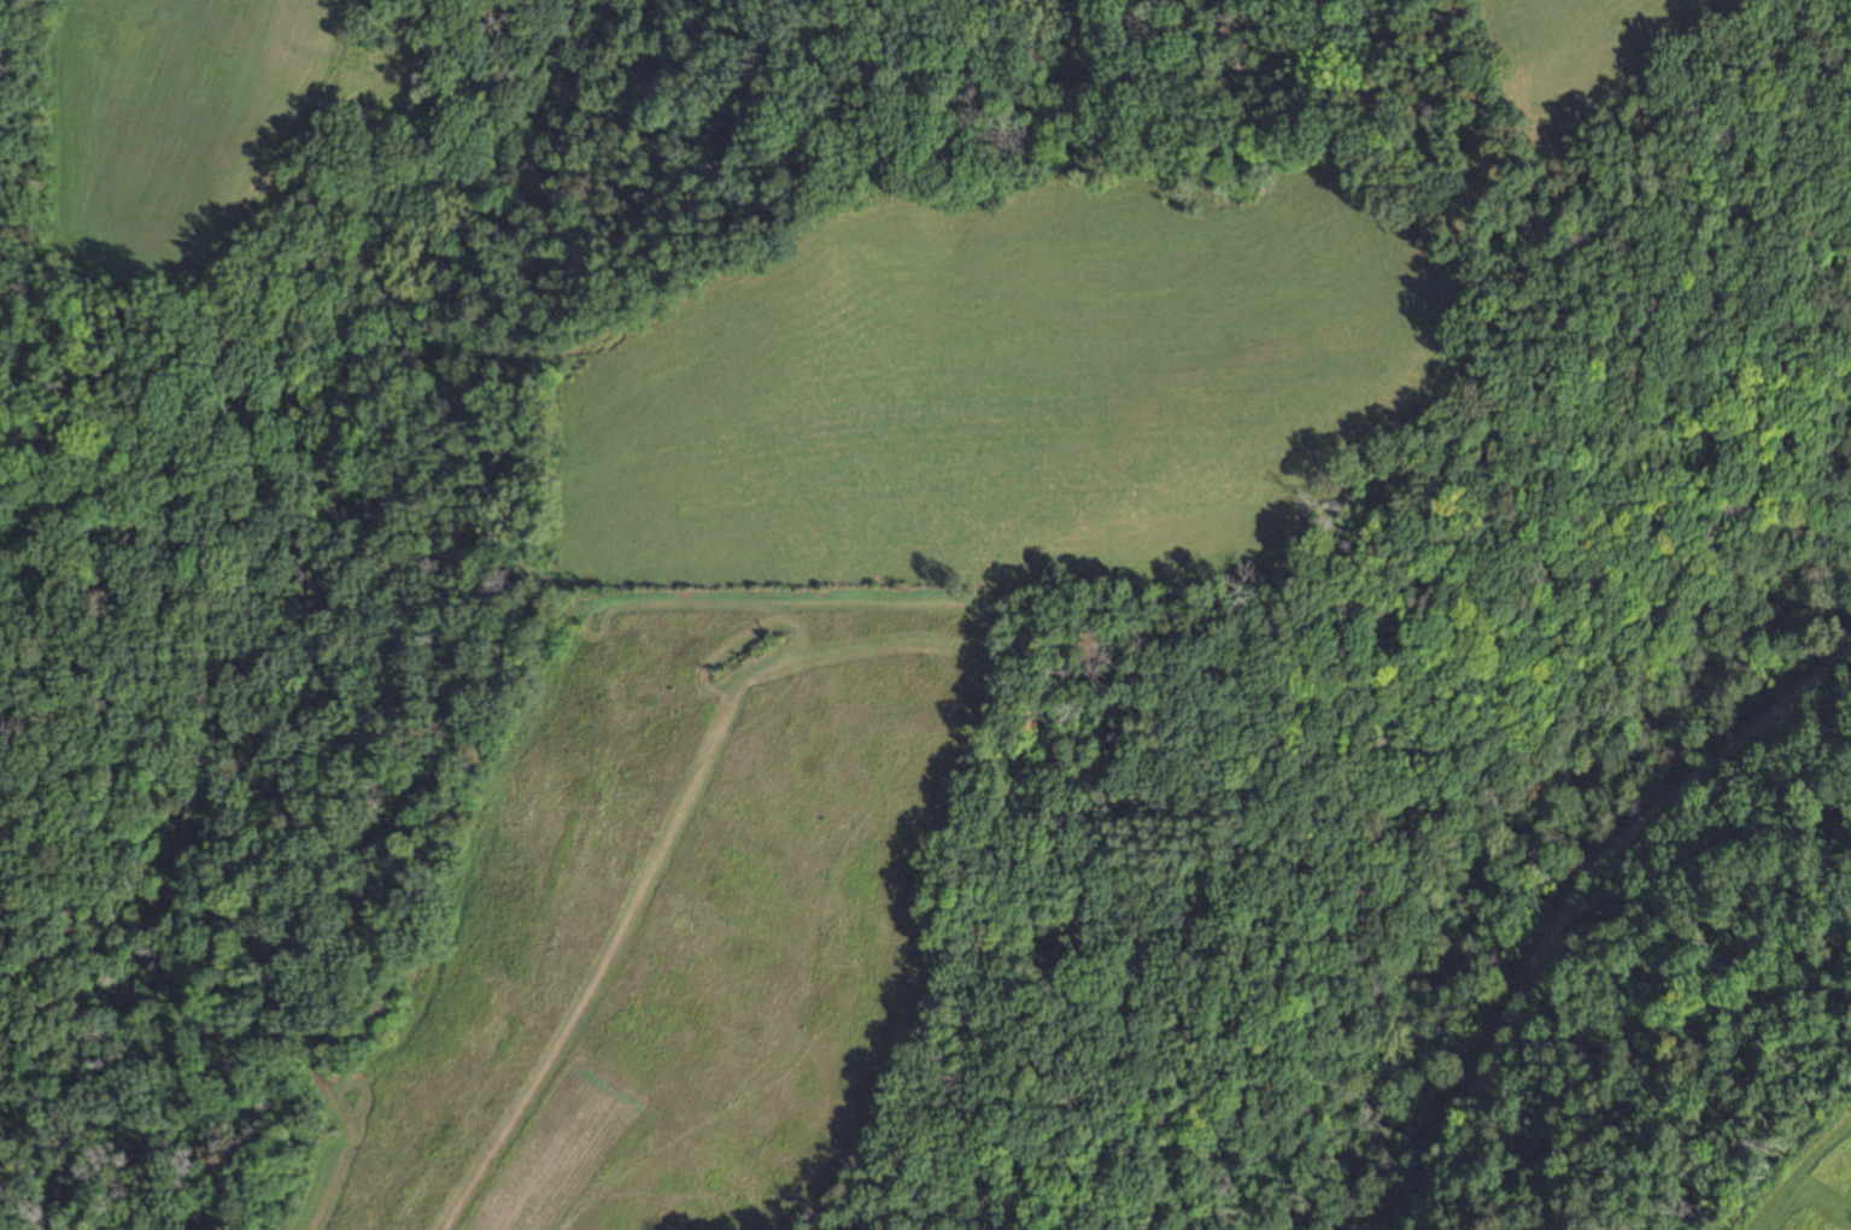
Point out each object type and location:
road: (1613, 949)

